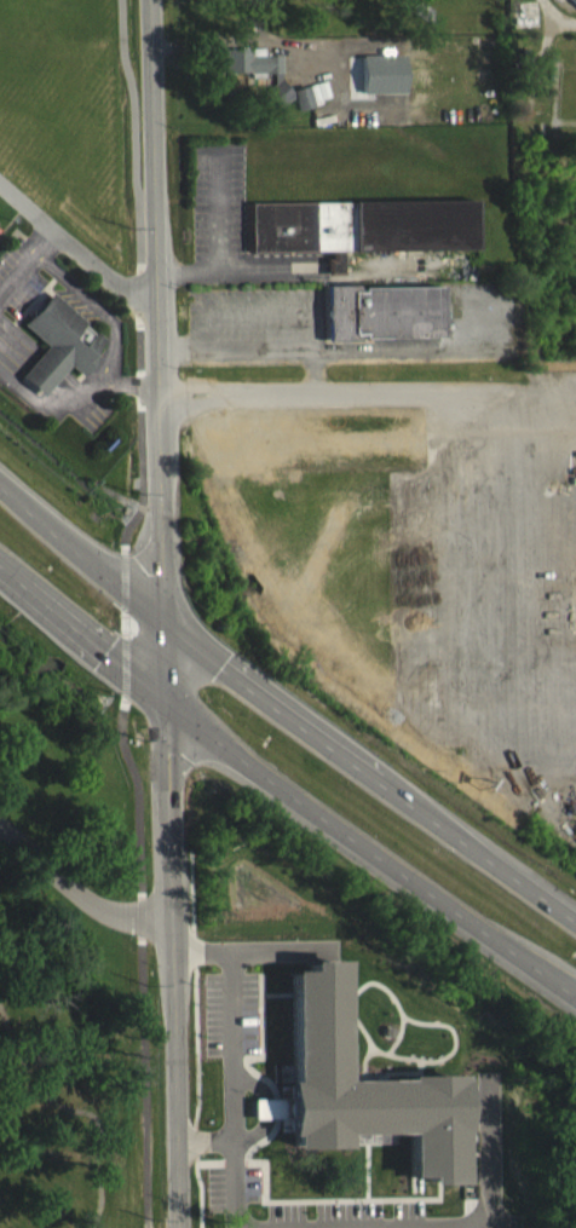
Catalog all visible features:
building: (570, 7)
building: (422, 25)
road: (237, 39)
building: (250, 74)
building: (380, 86)
building: (276, 106)
road: (133, 133)
building: (0, 224)
building: (359, 240)
road: (52, 244)
road: (80, 249)
parking lot: (22, 278)
road: (22, 278)
parking lot: (85, 306)
building: (379, 325)
building: (64, 342)
road: (46, 352)
road: (42, 362)
road: (113, 368)
road: (39, 370)
road: (34, 379)
road: (134, 384)
road: (221, 392)
road: (488, 407)
parking lot: (102, 416)
road: (168, 613)
traffic signals: (169, 618)
road: (283, 699)
traffic signals: (174, 705)
road: (283, 784)
road: (77, 890)
road: (231, 1063)
building: (358, 1100)
road: (206, 1140)
road: (488, 1209)

